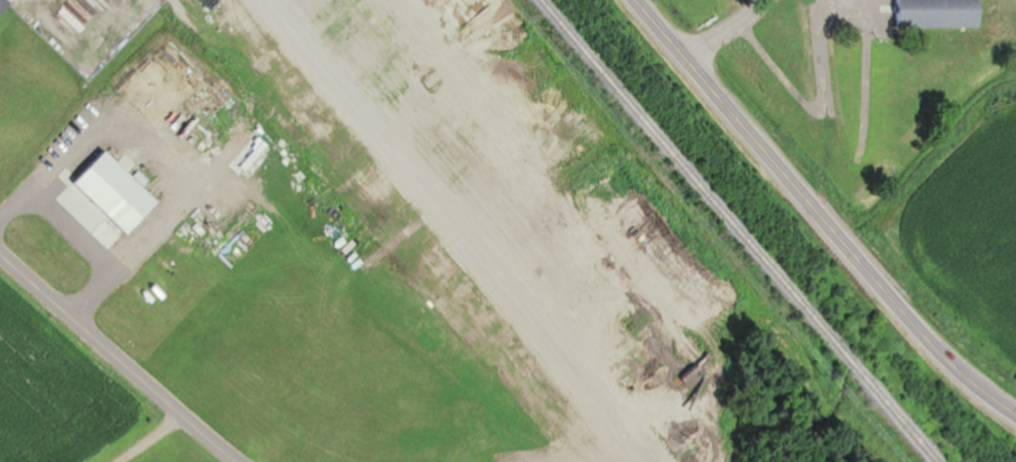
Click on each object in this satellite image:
building: (938, 14)
road: (720, 30)
building: (391, 83)
building: (117, 192)
road: (816, 216)
road: (459, 229)
railway: (734, 232)
road: (78, 243)
road: (116, 359)

